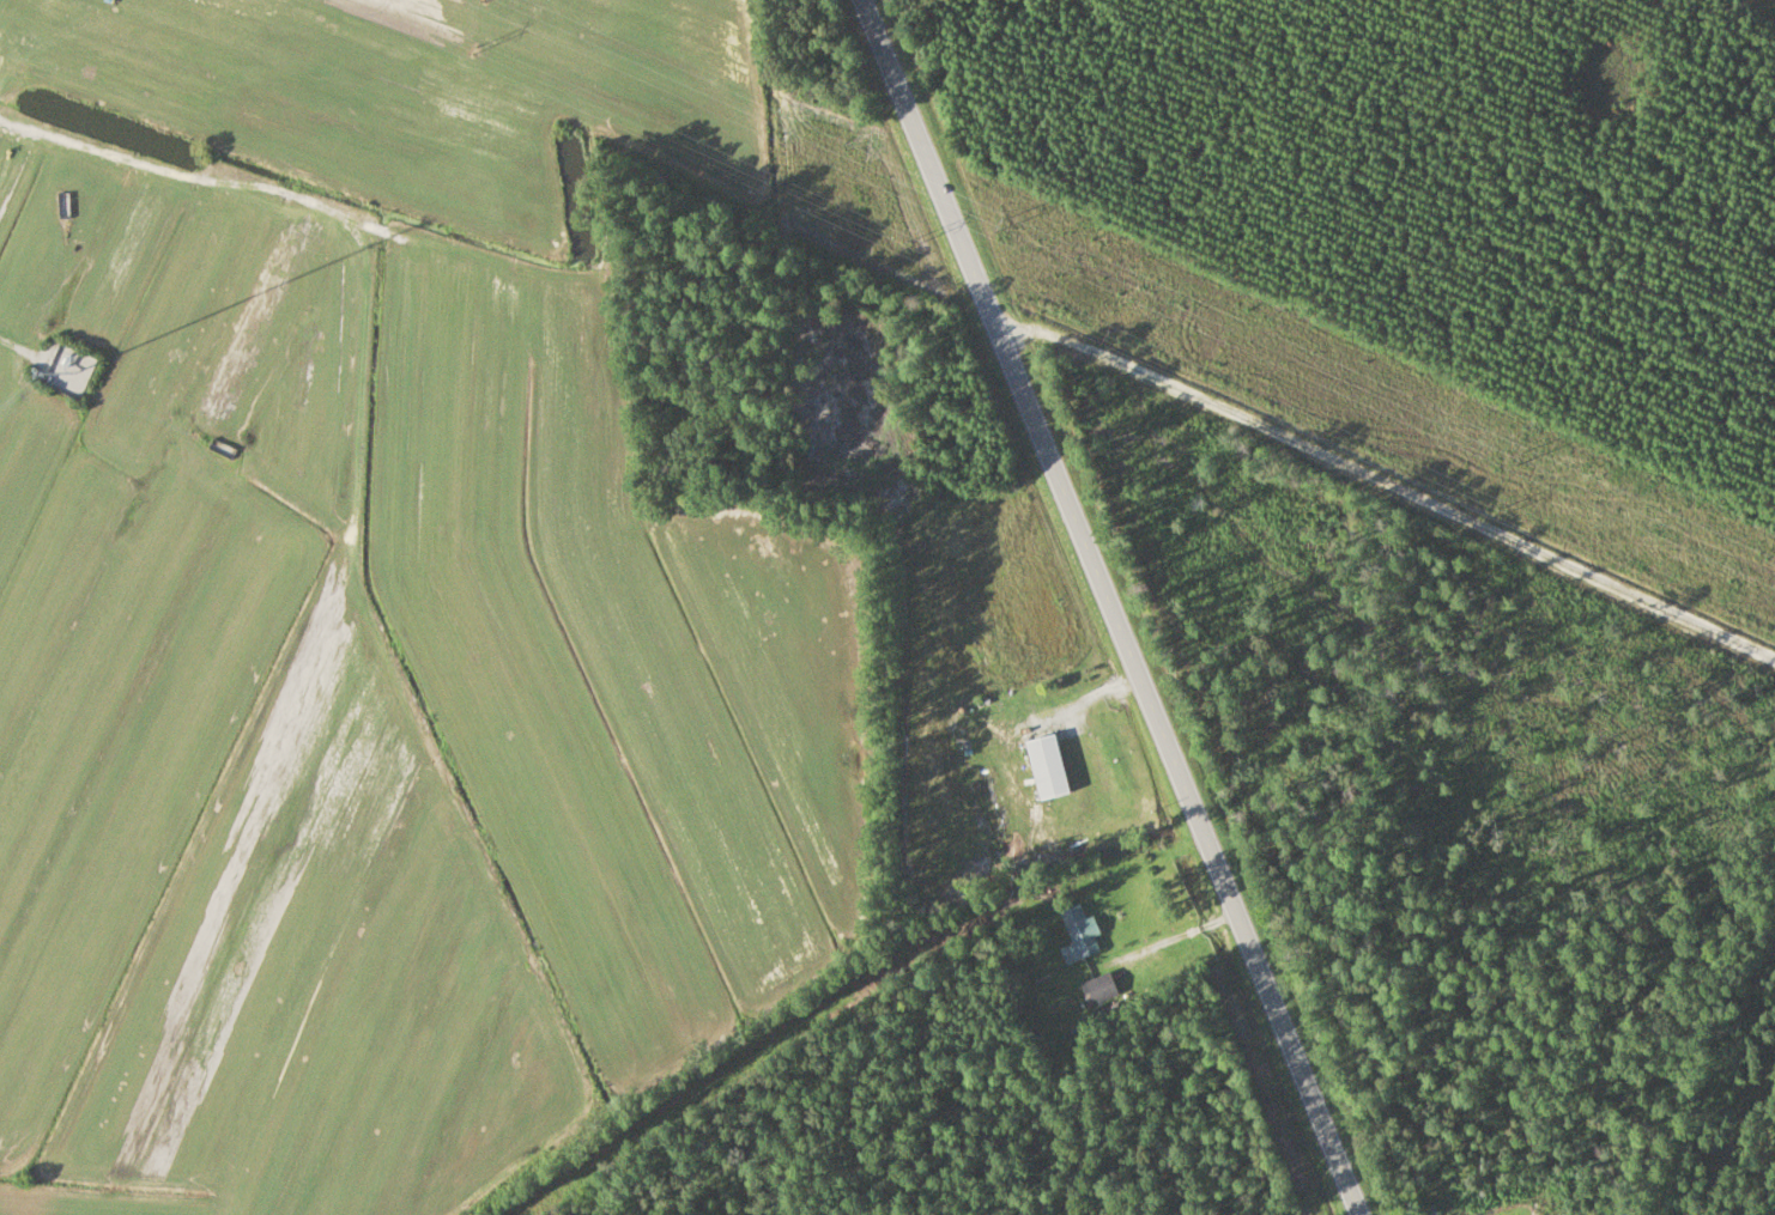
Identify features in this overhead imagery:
power tower: (474, 53)
power tower: (998, 227)
power tower: (899, 244)
power tower: (1098, 333)
building: (67, 371)
building: (220, 448)
power tower: (1514, 457)
power tower: (1503, 514)
road: (1113, 607)
building: (1043, 765)
building: (1077, 930)
building: (1096, 988)

